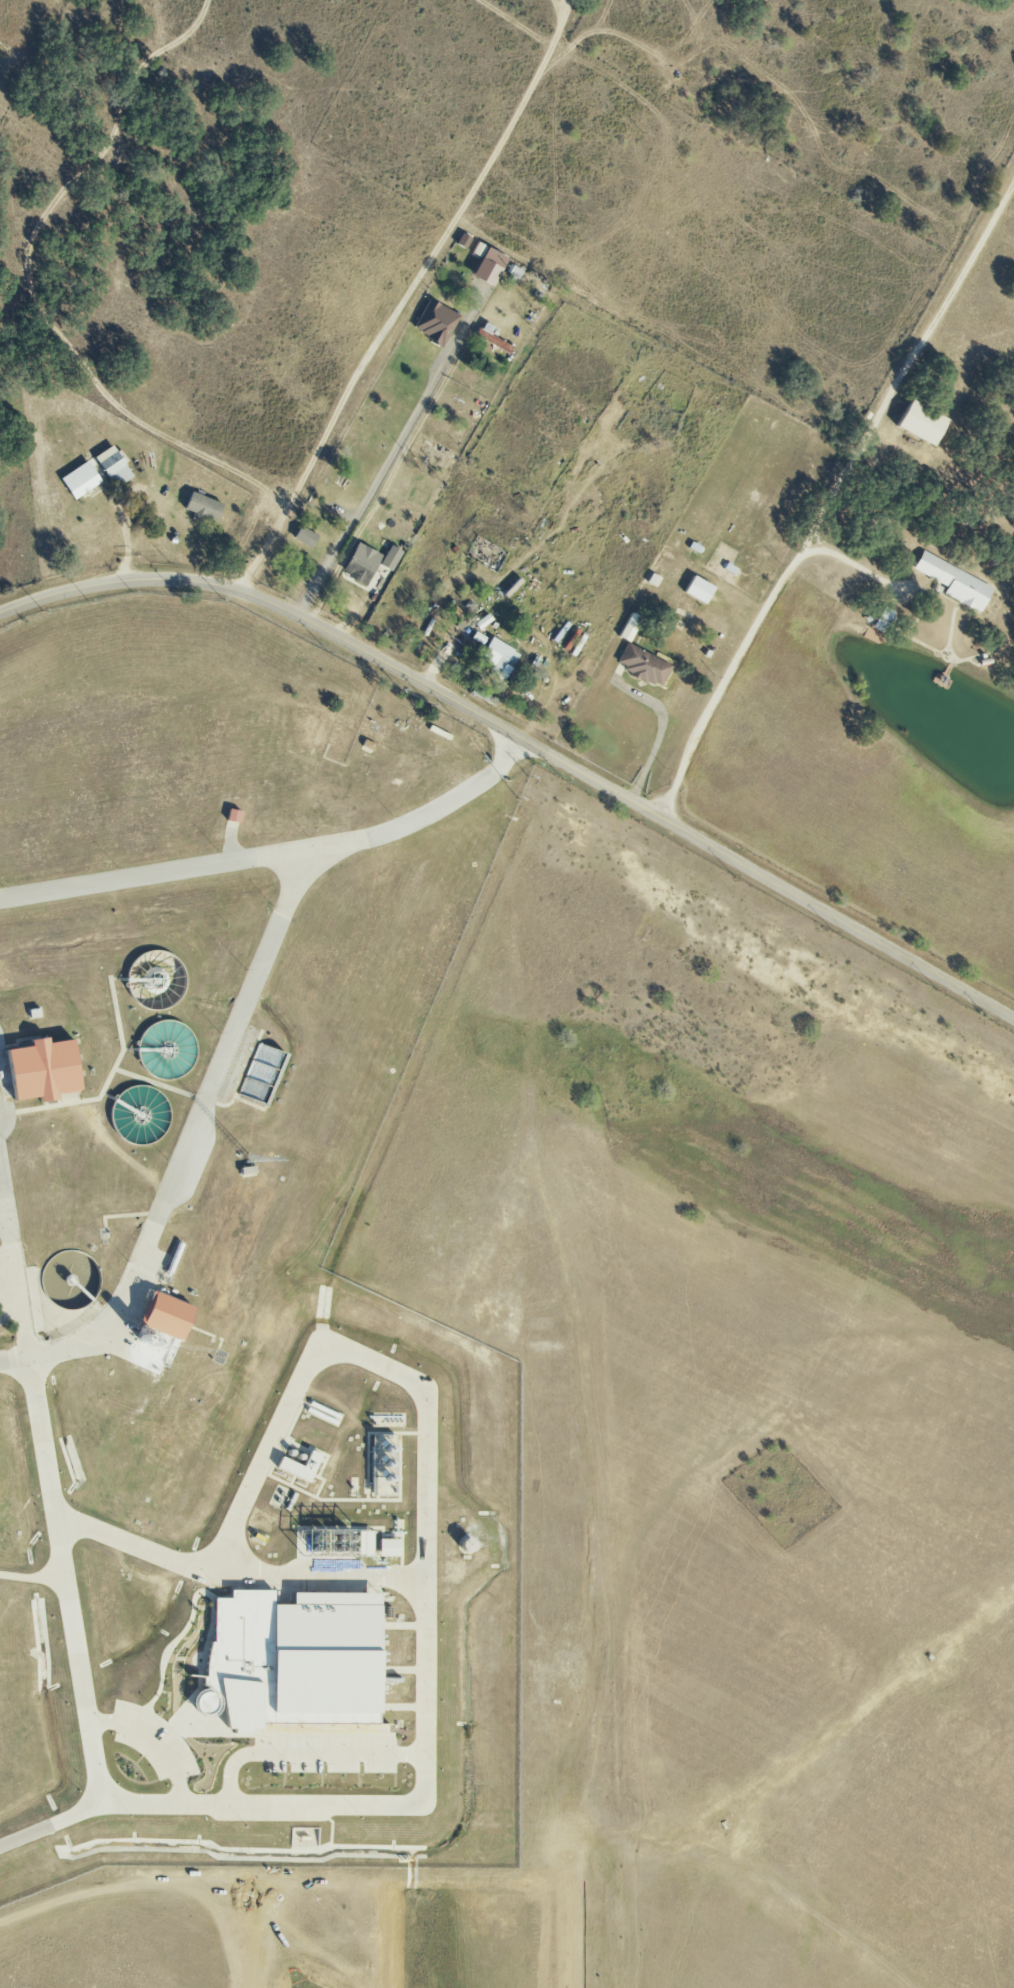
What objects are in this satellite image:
road: (557, 12)
road: (39, 74)
road: (719, 134)
road: (407, 296)
building: (437, 323)
building: (491, 337)
building: (919, 423)
road: (389, 465)
building: (112, 466)
building: (80, 480)
road: (430, 498)
road: (833, 498)
building: (202, 506)
road: (145, 534)
building: (304, 537)
road: (121, 540)
building: (390, 558)
building: (360, 563)
road: (855, 566)
building: (954, 581)
building: (697, 589)
building: (483, 621)
building: (478, 637)
building: (498, 655)
building: (642, 665)
road: (659, 735)
road: (521, 740)
building: (232, 815)
road: (279, 855)
building: (40, 1069)
building: (261, 1071)
road: (184, 1152)
road: (5, 1199)
building: (164, 1314)
building: (381, 1455)
building: (299, 1466)
building: (363, 1542)
building: (388, 1547)
road: (323, 1574)
building: (288, 1660)
road: (422, 1781)
road: (50, 1821)

